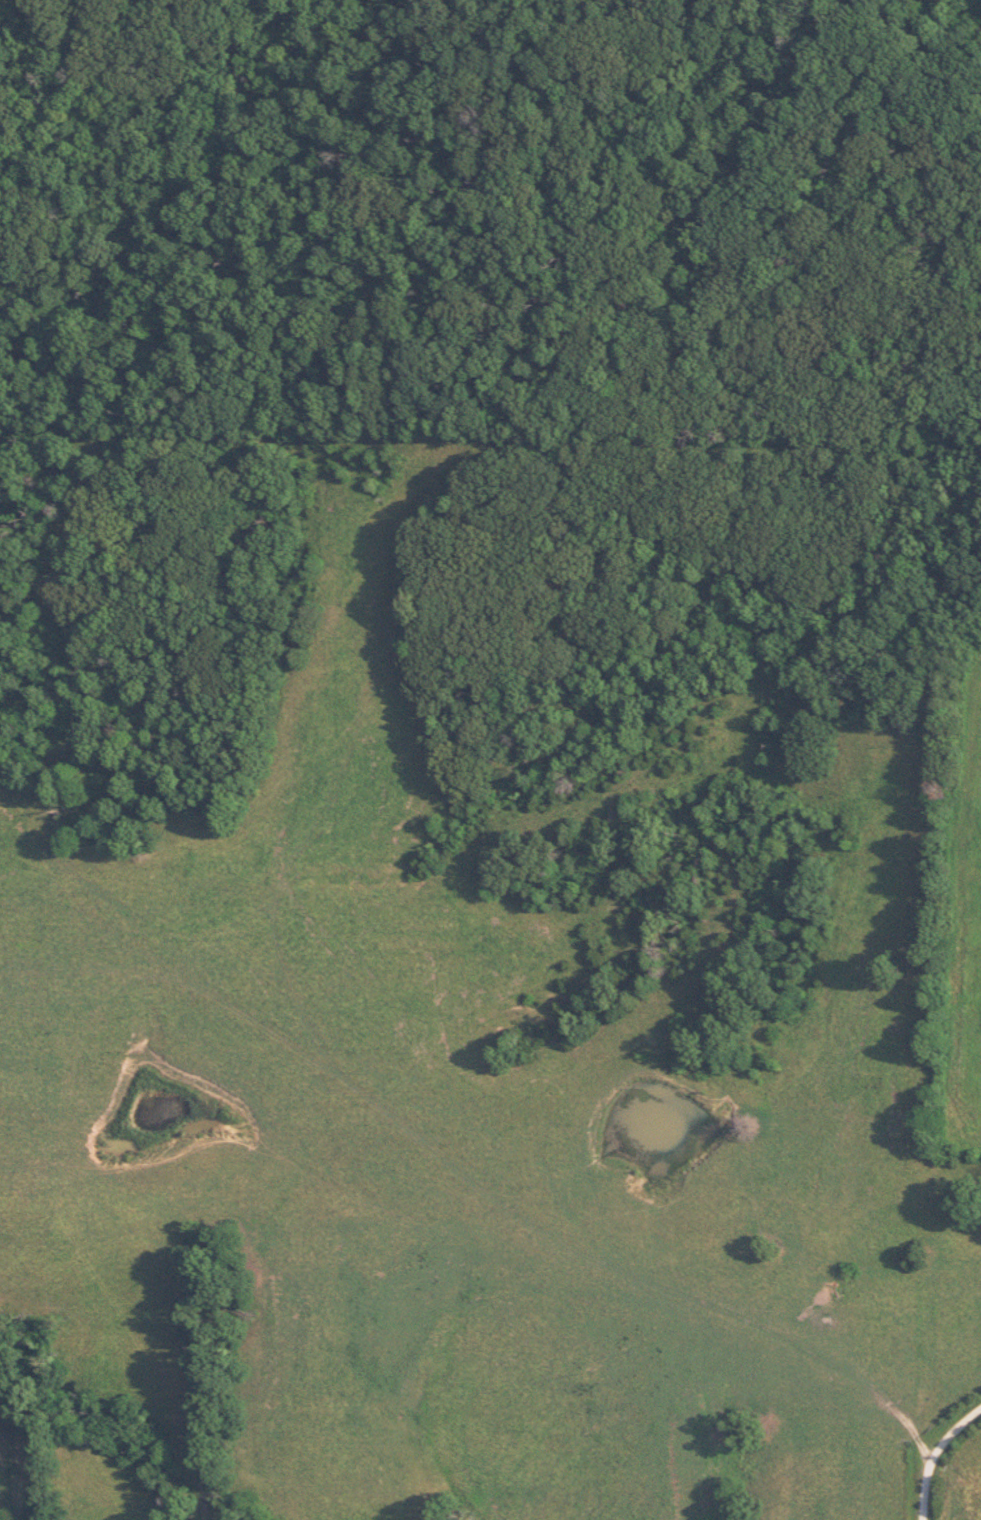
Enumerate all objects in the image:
road: (941, 1452)
road: (926, 1492)

